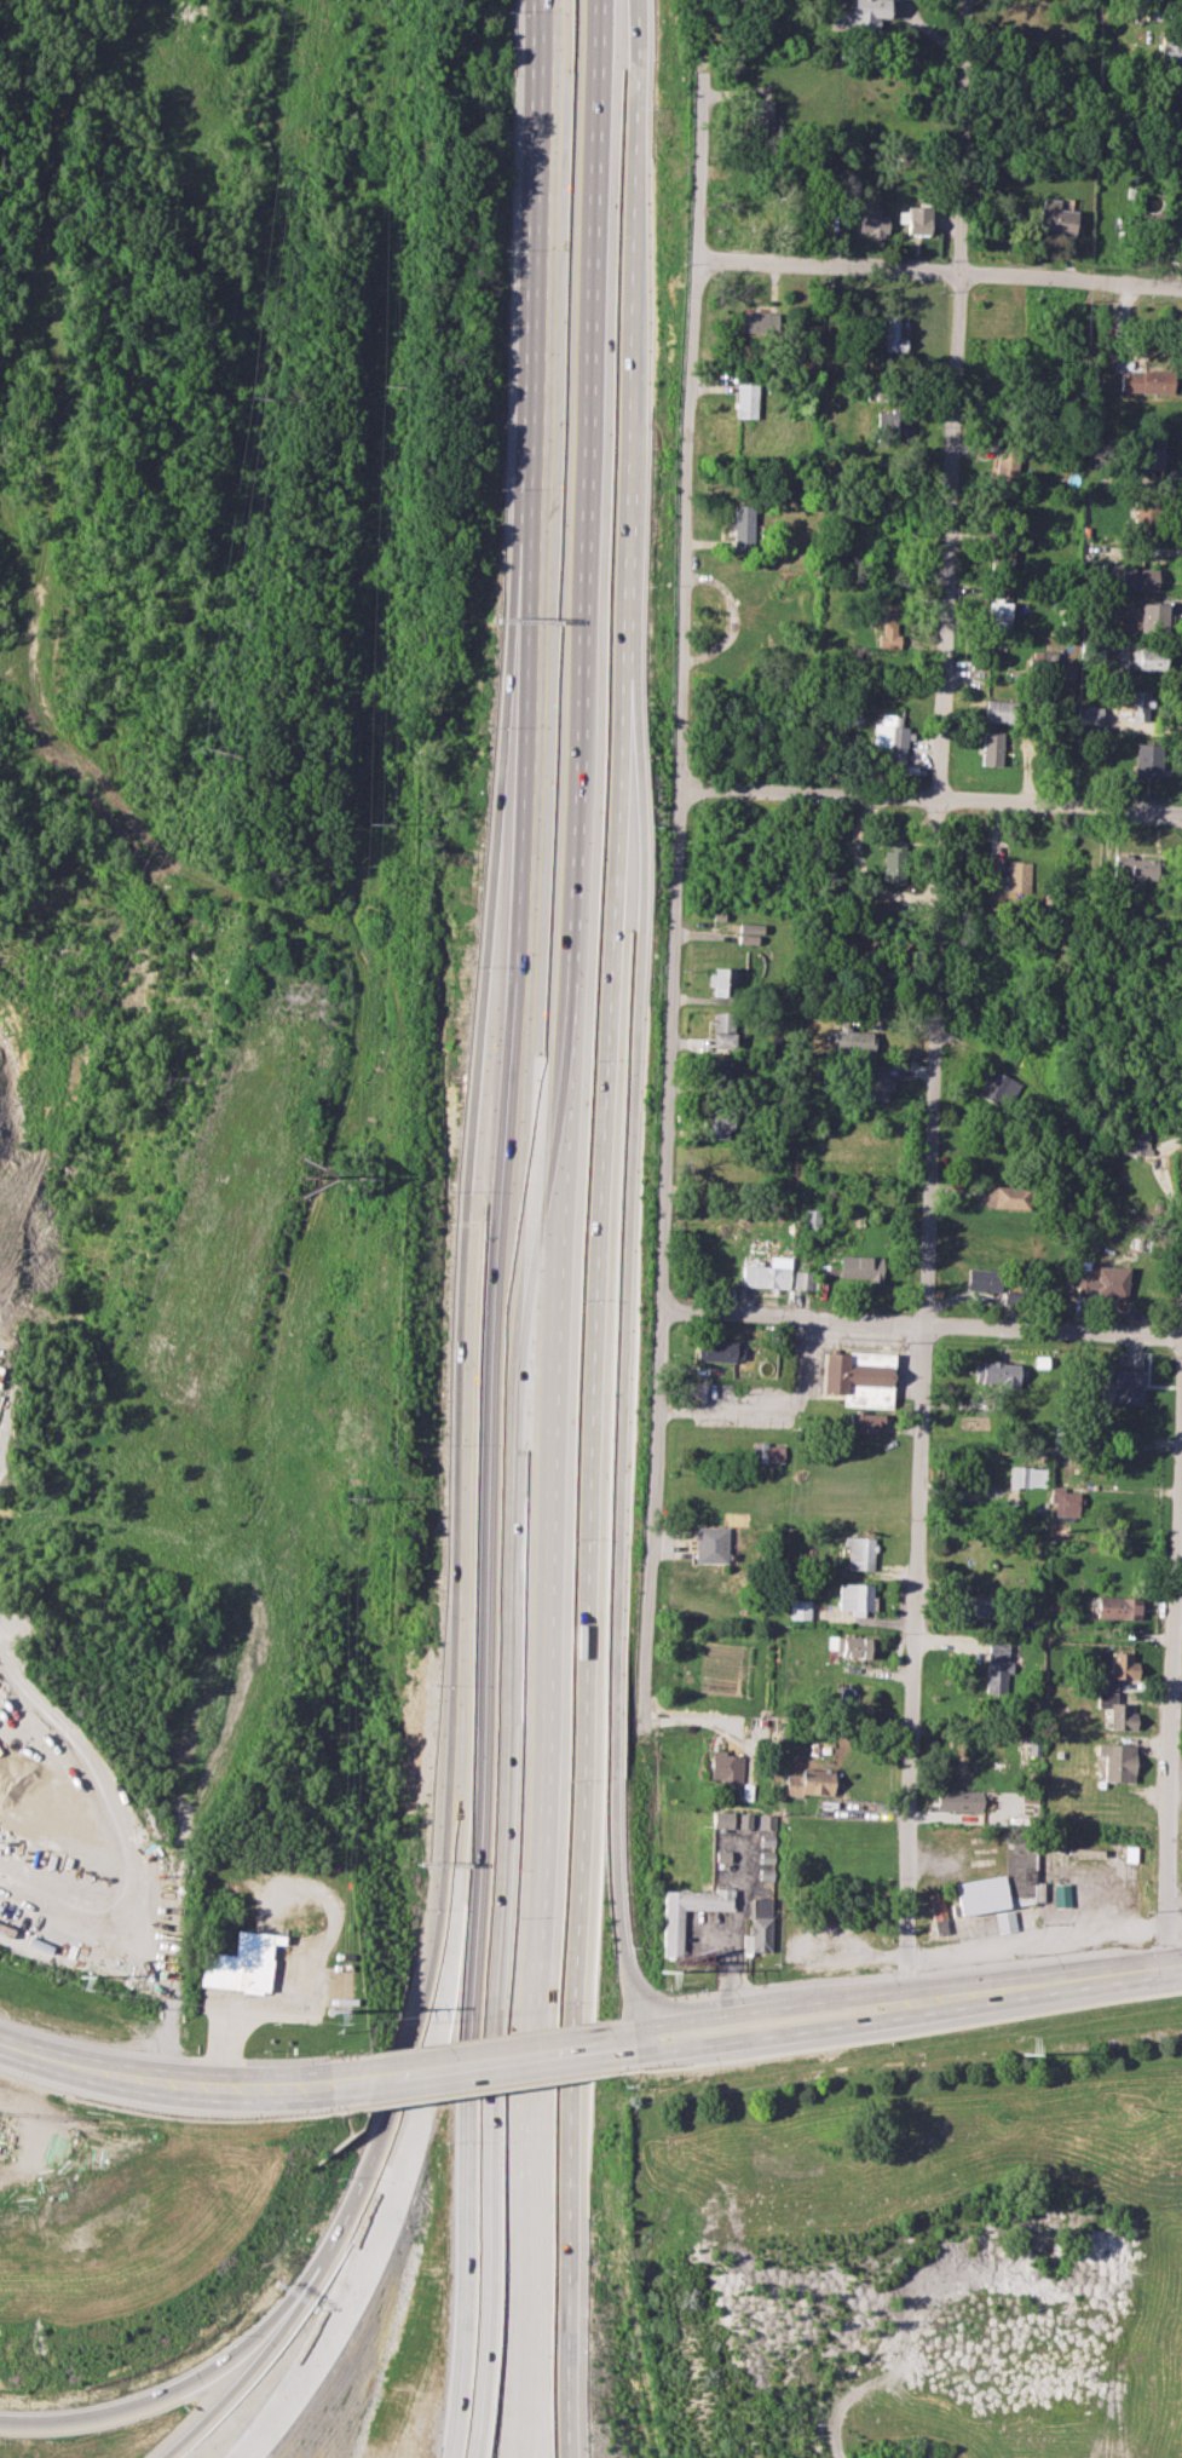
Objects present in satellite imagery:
building: (859, 15)
building: (1170, 50)
building: (760, 116)
building: (1054, 218)
building: (916, 219)
building: (870, 220)
road: (938, 269)
building: (757, 321)
road: (53, 328)
building: (890, 333)
road: (537, 357)
building: (1142, 379)
power tower: (390, 384)
power tower: (259, 397)
building: (745, 399)
building: (892, 426)
building: (1149, 454)
building: (1007, 465)
building: (1143, 520)
building: (740, 526)
building: (1136, 577)
building: (1158, 609)
building: (998, 615)
building: (883, 622)
building: (1147, 658)
building: (1134, 703)
building: (997, 710)
building: (1089, 714)
building: (890, 736)
building: (991, 748)
power tower: (217, 749)
building: (1147, 759)
road: (929, 798)
power tower: (375, 827)
building: (893, 863)
building: (1132, 868)
building: (1017, 875)
road: (673, 881)
building: (753, 927)
building: (749, 938)
building: (723, 980)
road: (932, 1000)
building: (722, 1029)
building: (853, 1040)
building: (721, 1069)
building: (877, 1083)
road: (376, 1086)
building: (999, 1088)
building: (720, 1123)
building: (1136, 1142)
power tower: (362, 1179)
building: (1005, 1196)
road: (468, 1213)
building: (811, 1216)
road: (561, 1228)
road: (604, 1228)
building: (860, 1267)
building: (765, 1276)
building: (984, 1278)
building: (803, 1279)
building: (1105, 1282)
road: (919, 1322)
building: (714, 1349)
road: (623, 1355)
building: (994, 1372)
building: (857, 1377)
building: (1124, 1385)
building: (863, 1421)
building: (767, 1452)
building: (1019, 1475)
building: (1036, 1476)
power tower: (352, 1498)
building: (1063, 1501)
building: (709, 1543)
building: (859, 1553)
road: (501, 1587)
building: (854, 1596)
building: (973, 1606)
building: (1117, 1607)
building: (797, 1608)
building: (848, 1645)
building: (996, 1667)
road: (1172, 1668)
building: (1117, 1669)
building: (1115, 1710)
building: (1117, 1761)
building: (726, 1766)
building: (809, 1781)
building: (957, 1800)
road: (448, 1811)
building: (721, 1819)
building: (743, 1820)
building: (766, 1820)
building: (980, 1894)
building: (1060, 1894)
building: (935, 1905)
building: (1004, 1921)
building: (757, 1925)
road: (736, 1927)
building: (670, 1932)
road: (136, 1947)
building: (240, 1963)
power tower: (661, 1969)
road: (1044, 1980)
power tower: (74, 1985)
road: (849, 1996)
road: (252, 2007)
power tower: (329, 2009)
road: (711, 2014)
road: (775, 2033)
road: (2, 2038)
road: (628, 2043)
power tower: (1021, 2053)
road: (473, 2065)
road: (408, 2076)
road: (162, 2080)
road: (400, 2199)
road: (272, 2358)
road: (195, 2374)

